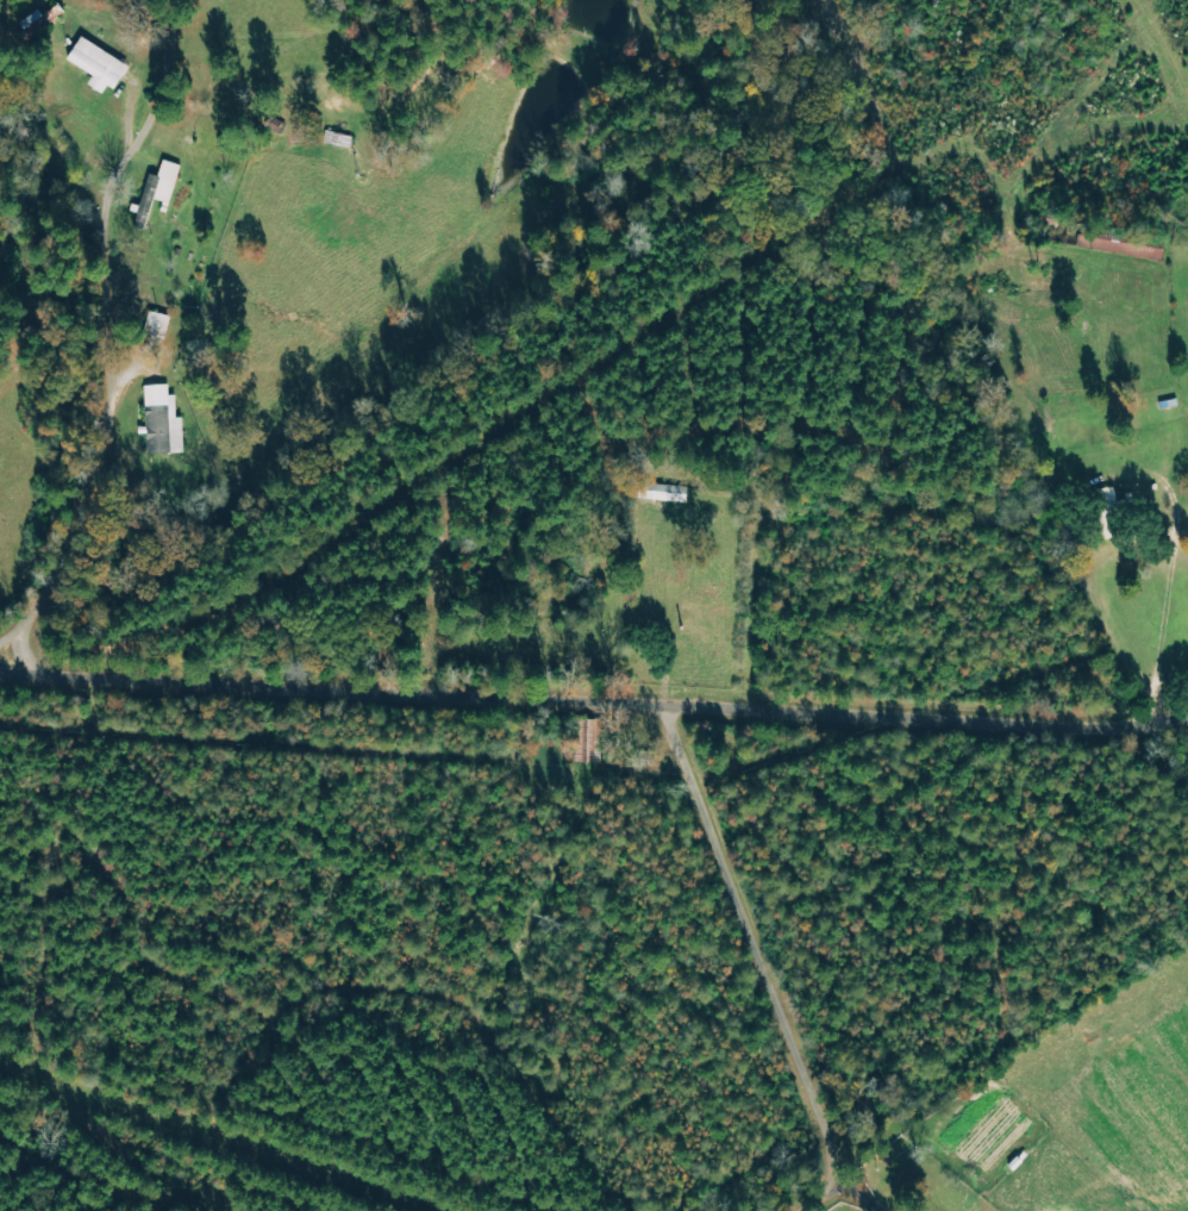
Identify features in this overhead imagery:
building: (100, 65)
building: (157, 192)
building: (1121, 248)
road: (94, 285)
building: (165, 423)
building: (668, 494)
building: (1102, 502)
road: (593, 707)
road: (734, 965)

